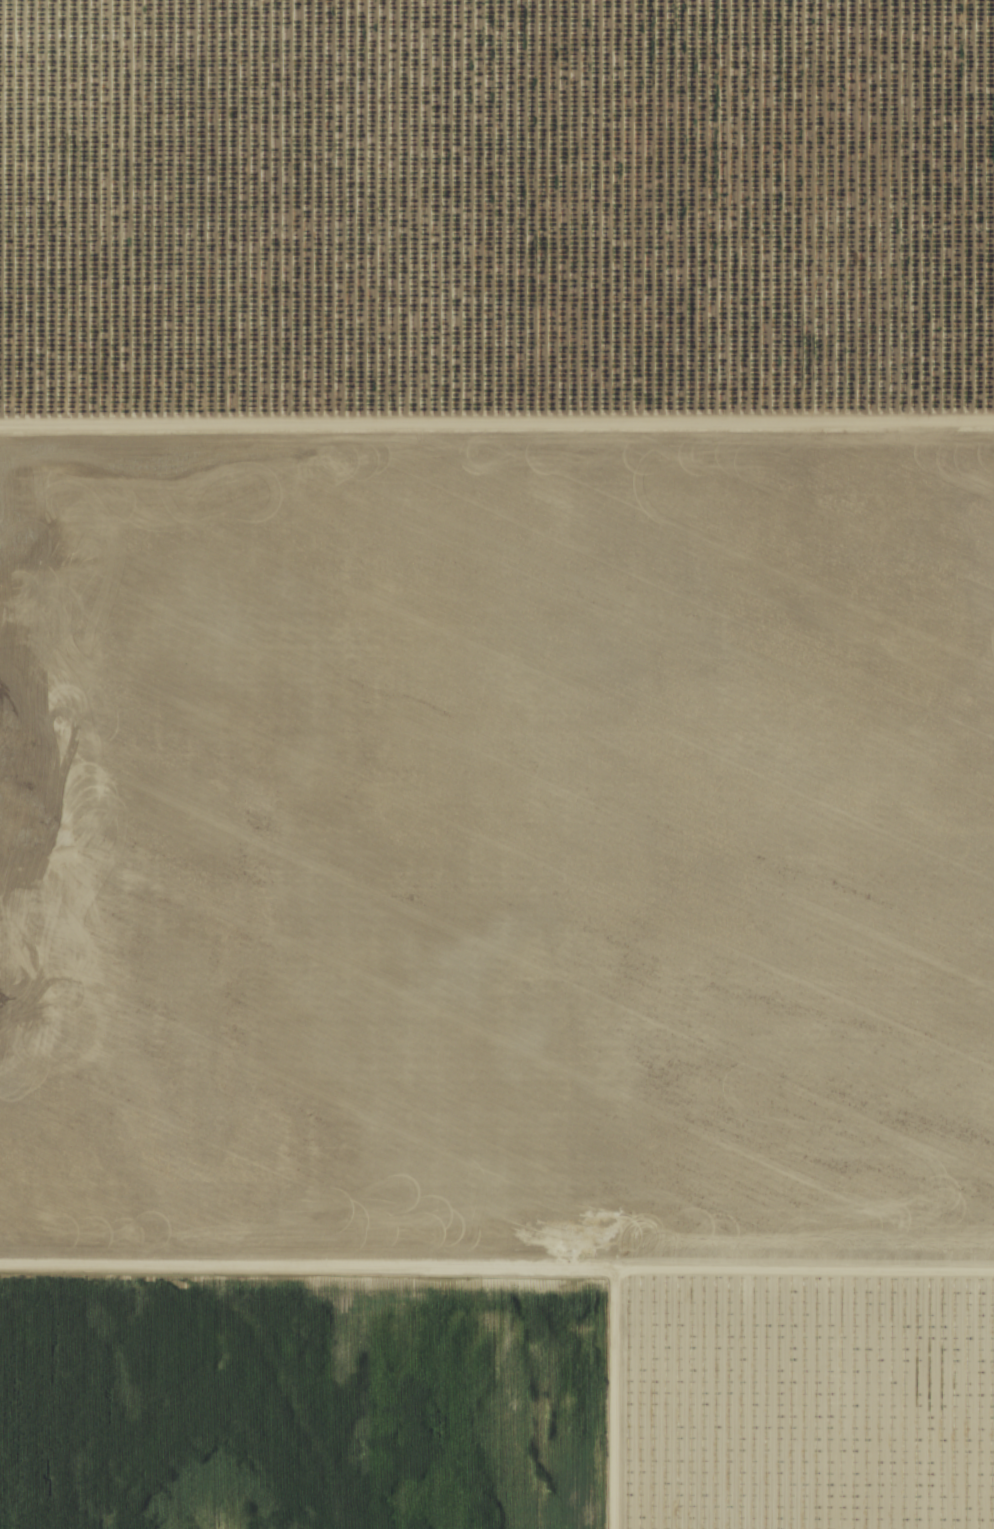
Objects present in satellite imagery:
road: (497, 500)

